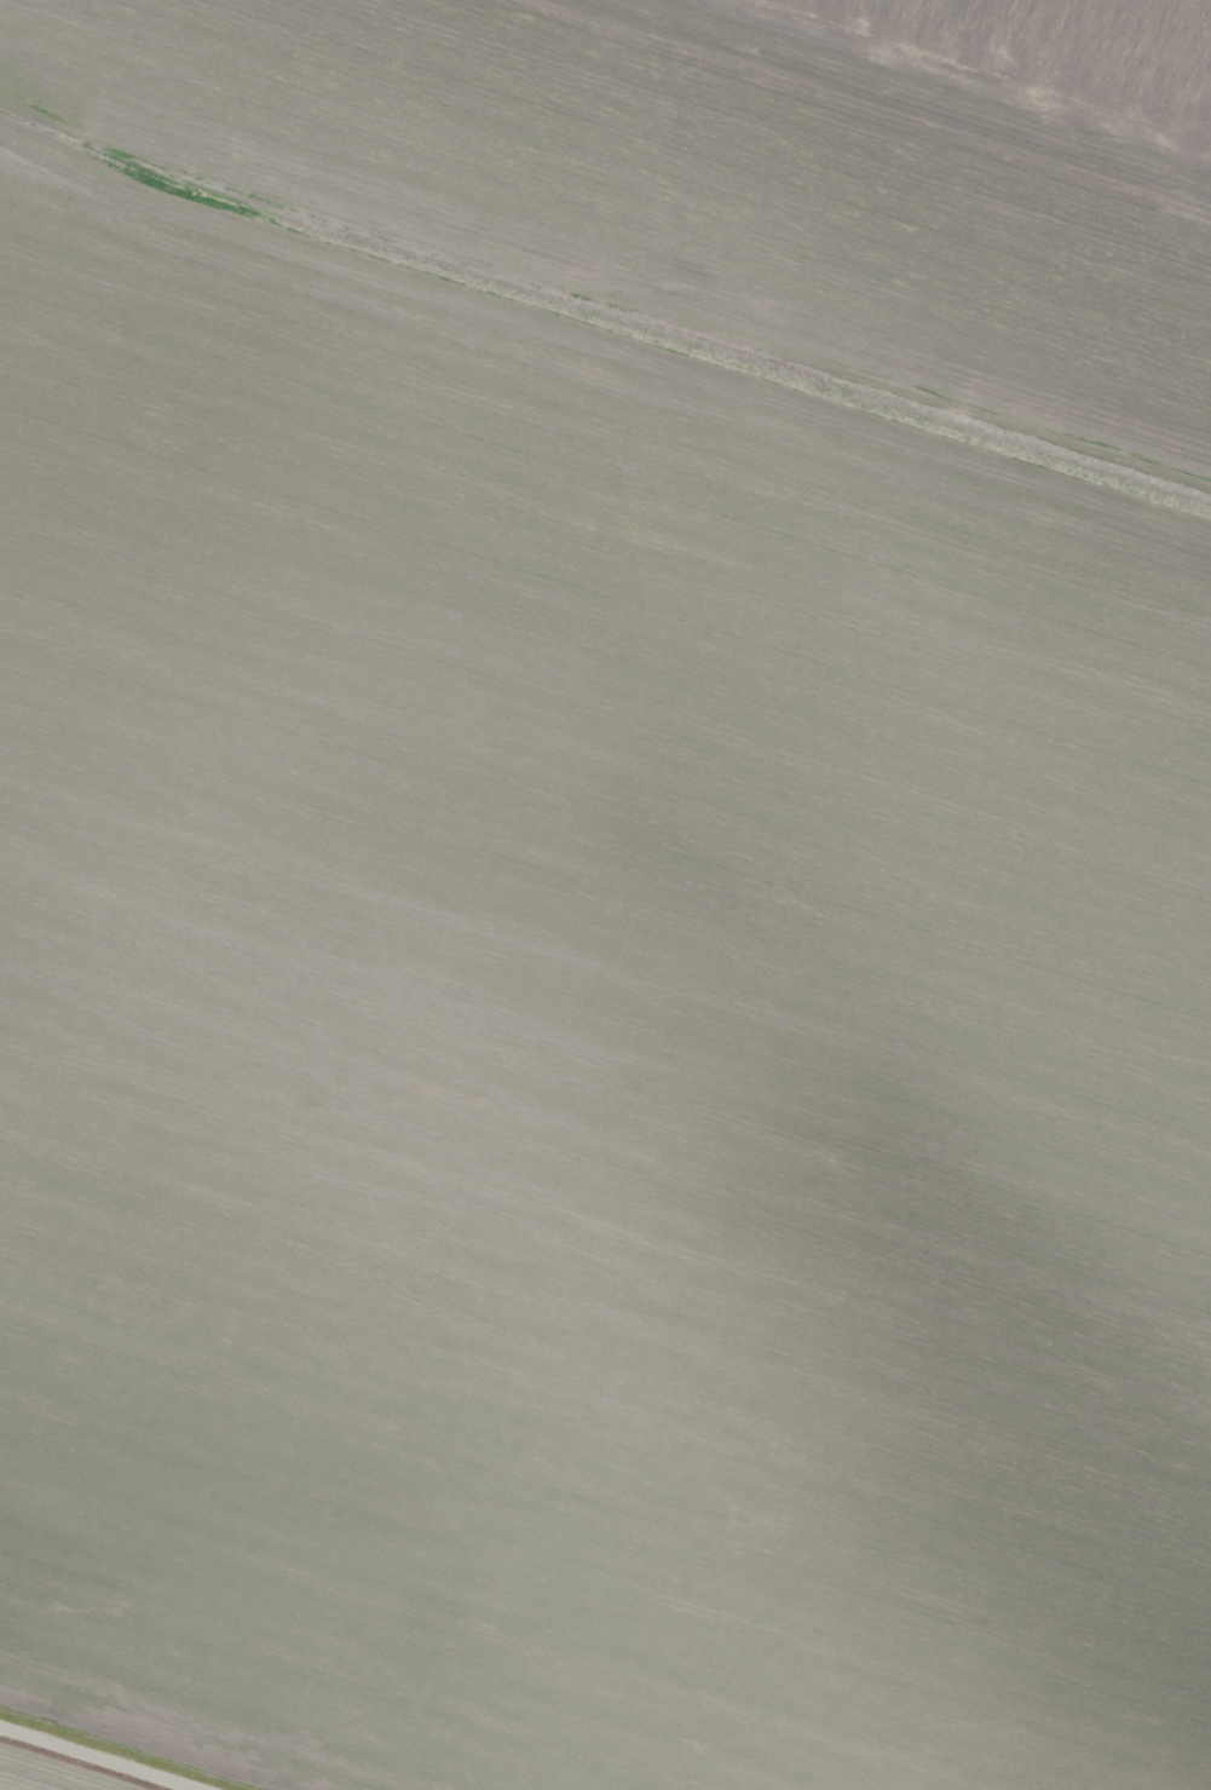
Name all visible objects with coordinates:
road: (133, 1748)

